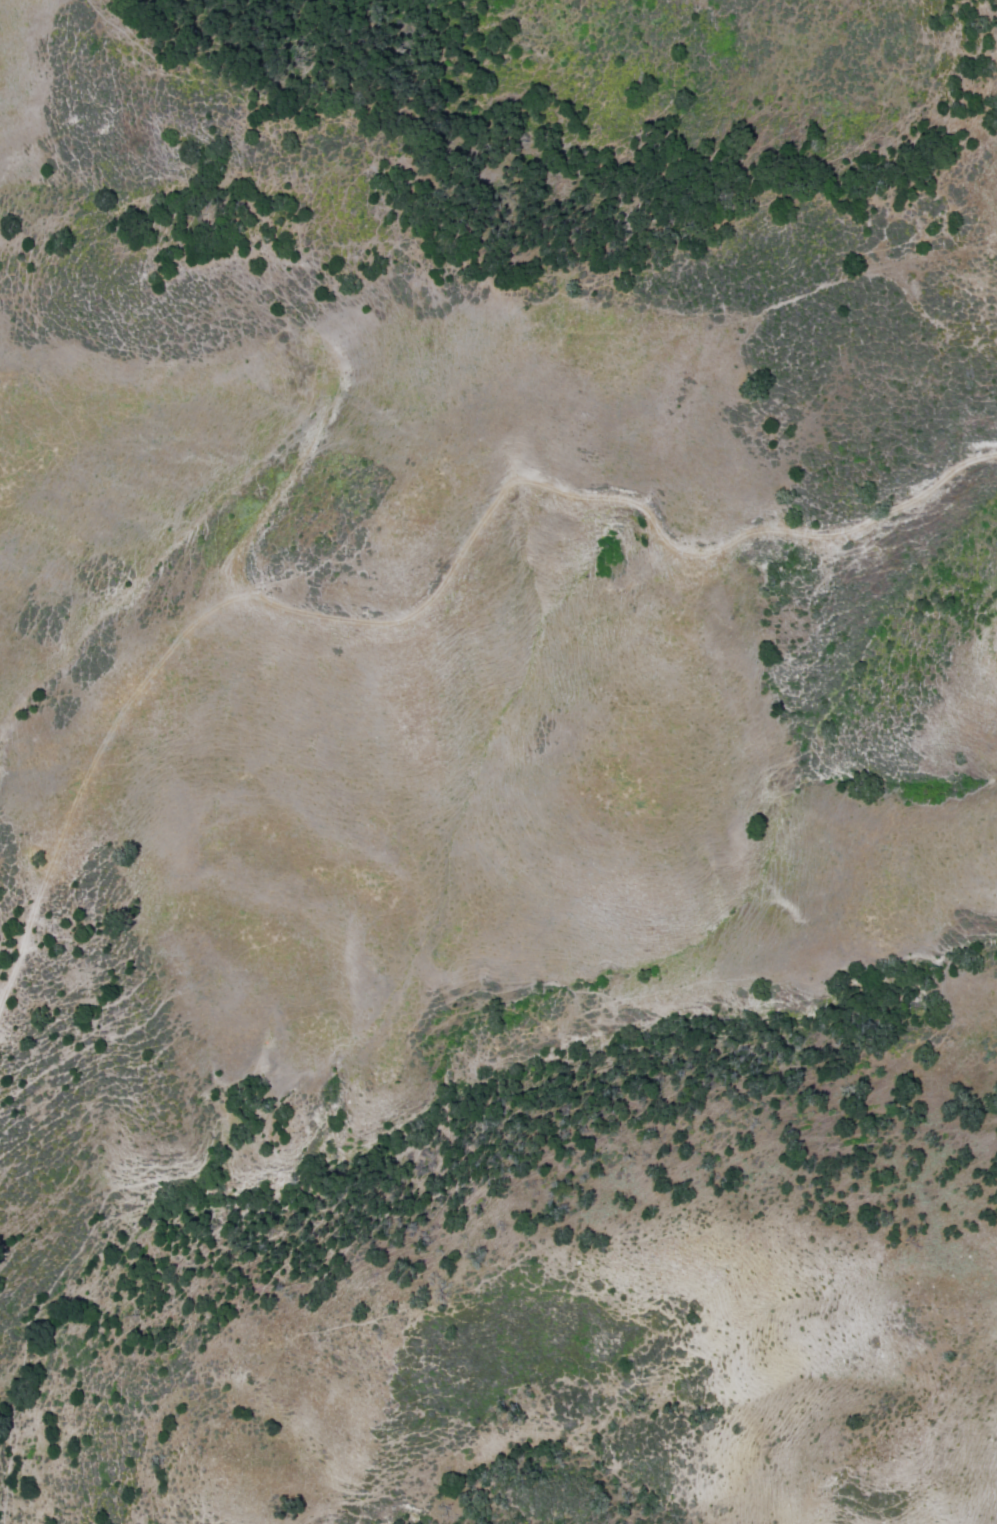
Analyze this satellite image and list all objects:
road: (366, 618)

